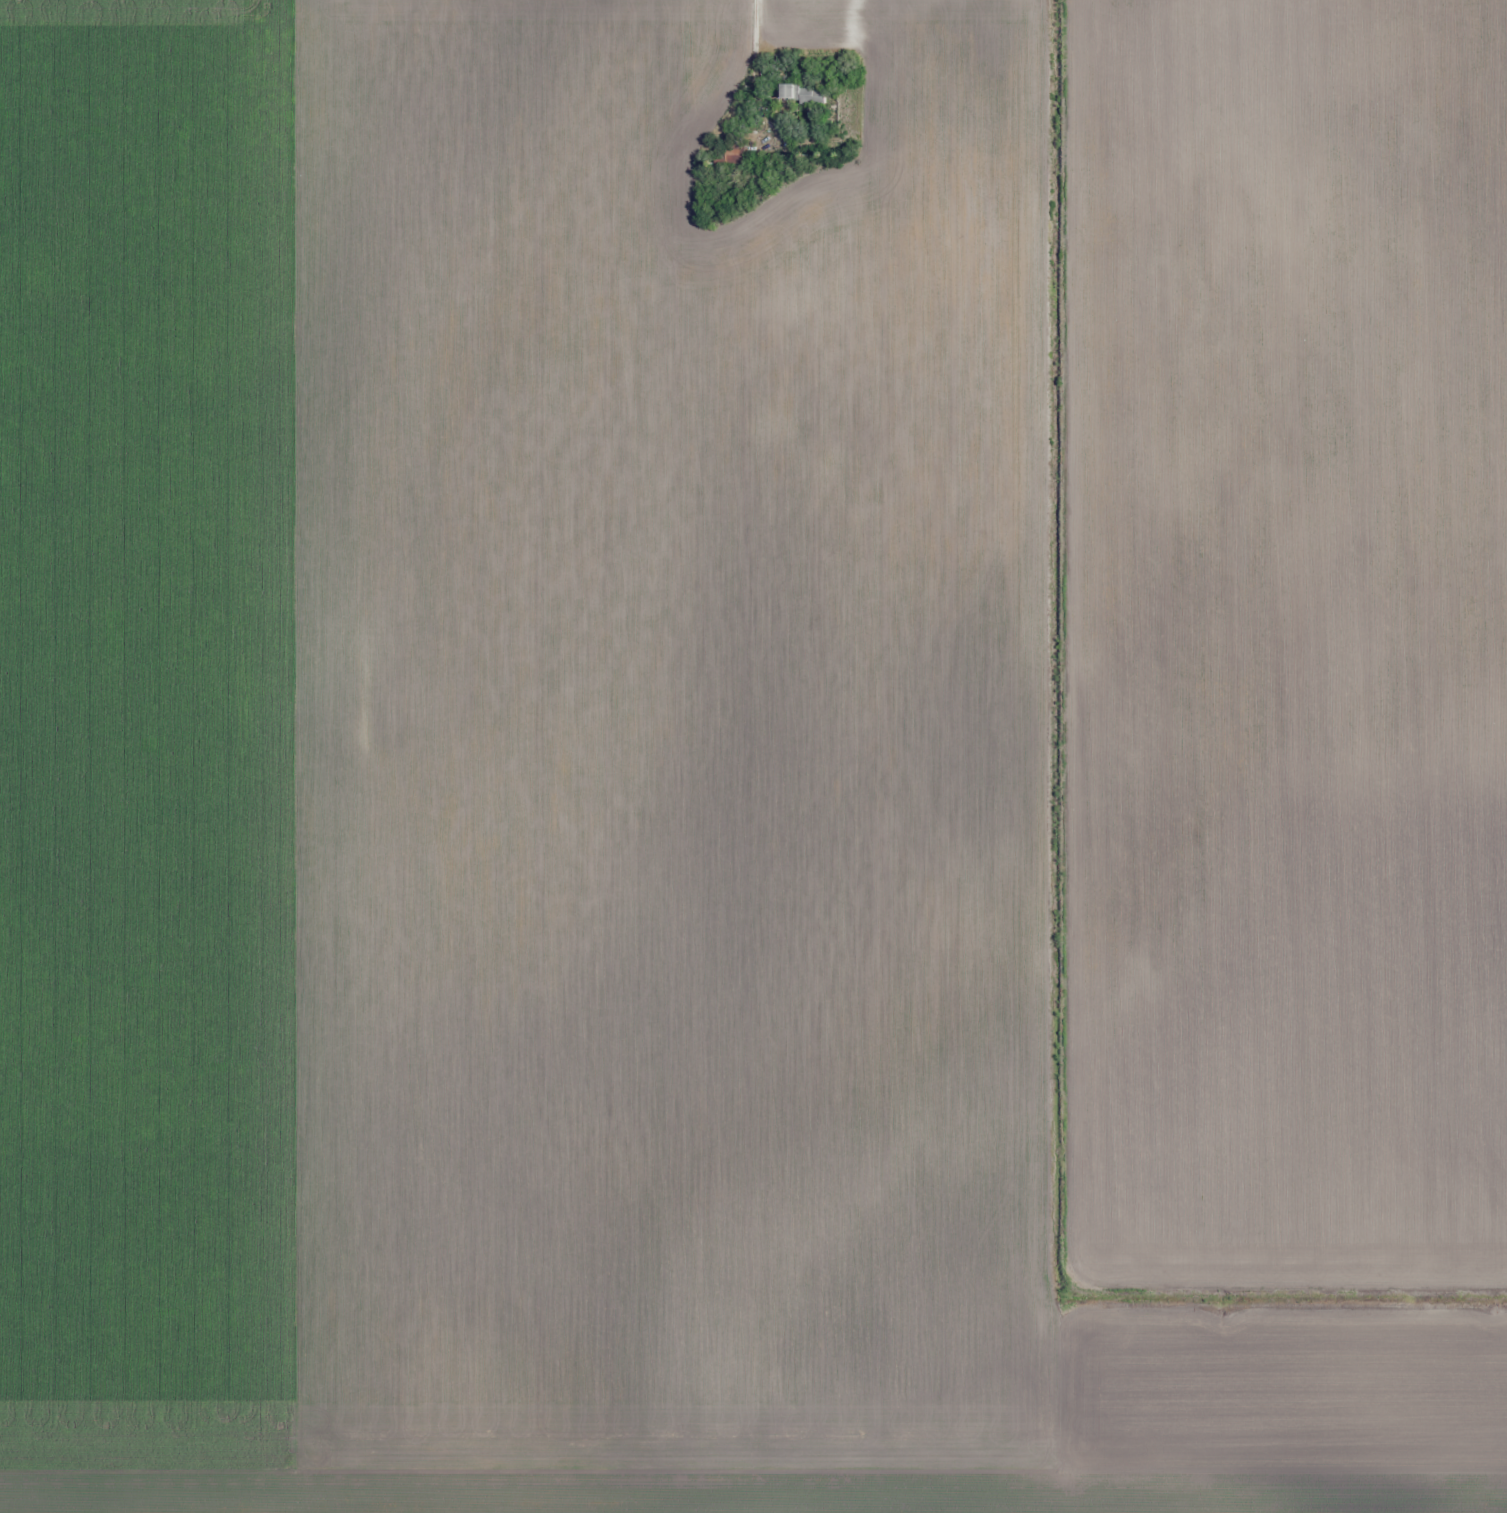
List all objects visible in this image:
building: (808, 94)
building: (739, 155)

